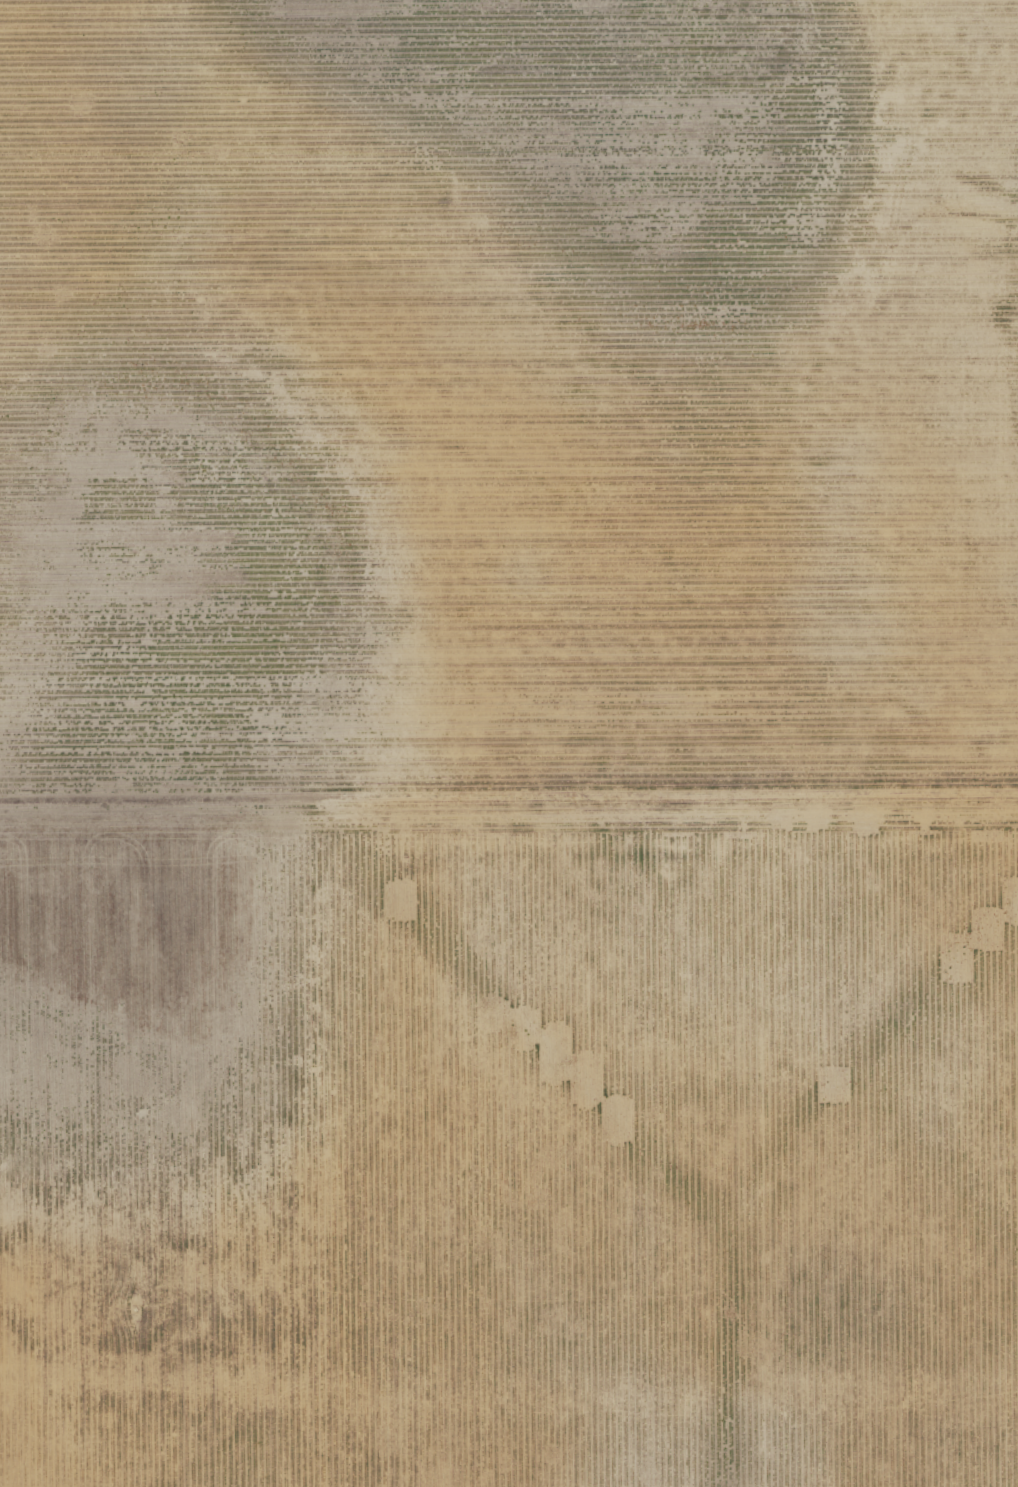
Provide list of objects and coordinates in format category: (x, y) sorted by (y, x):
road: (508, 786)

